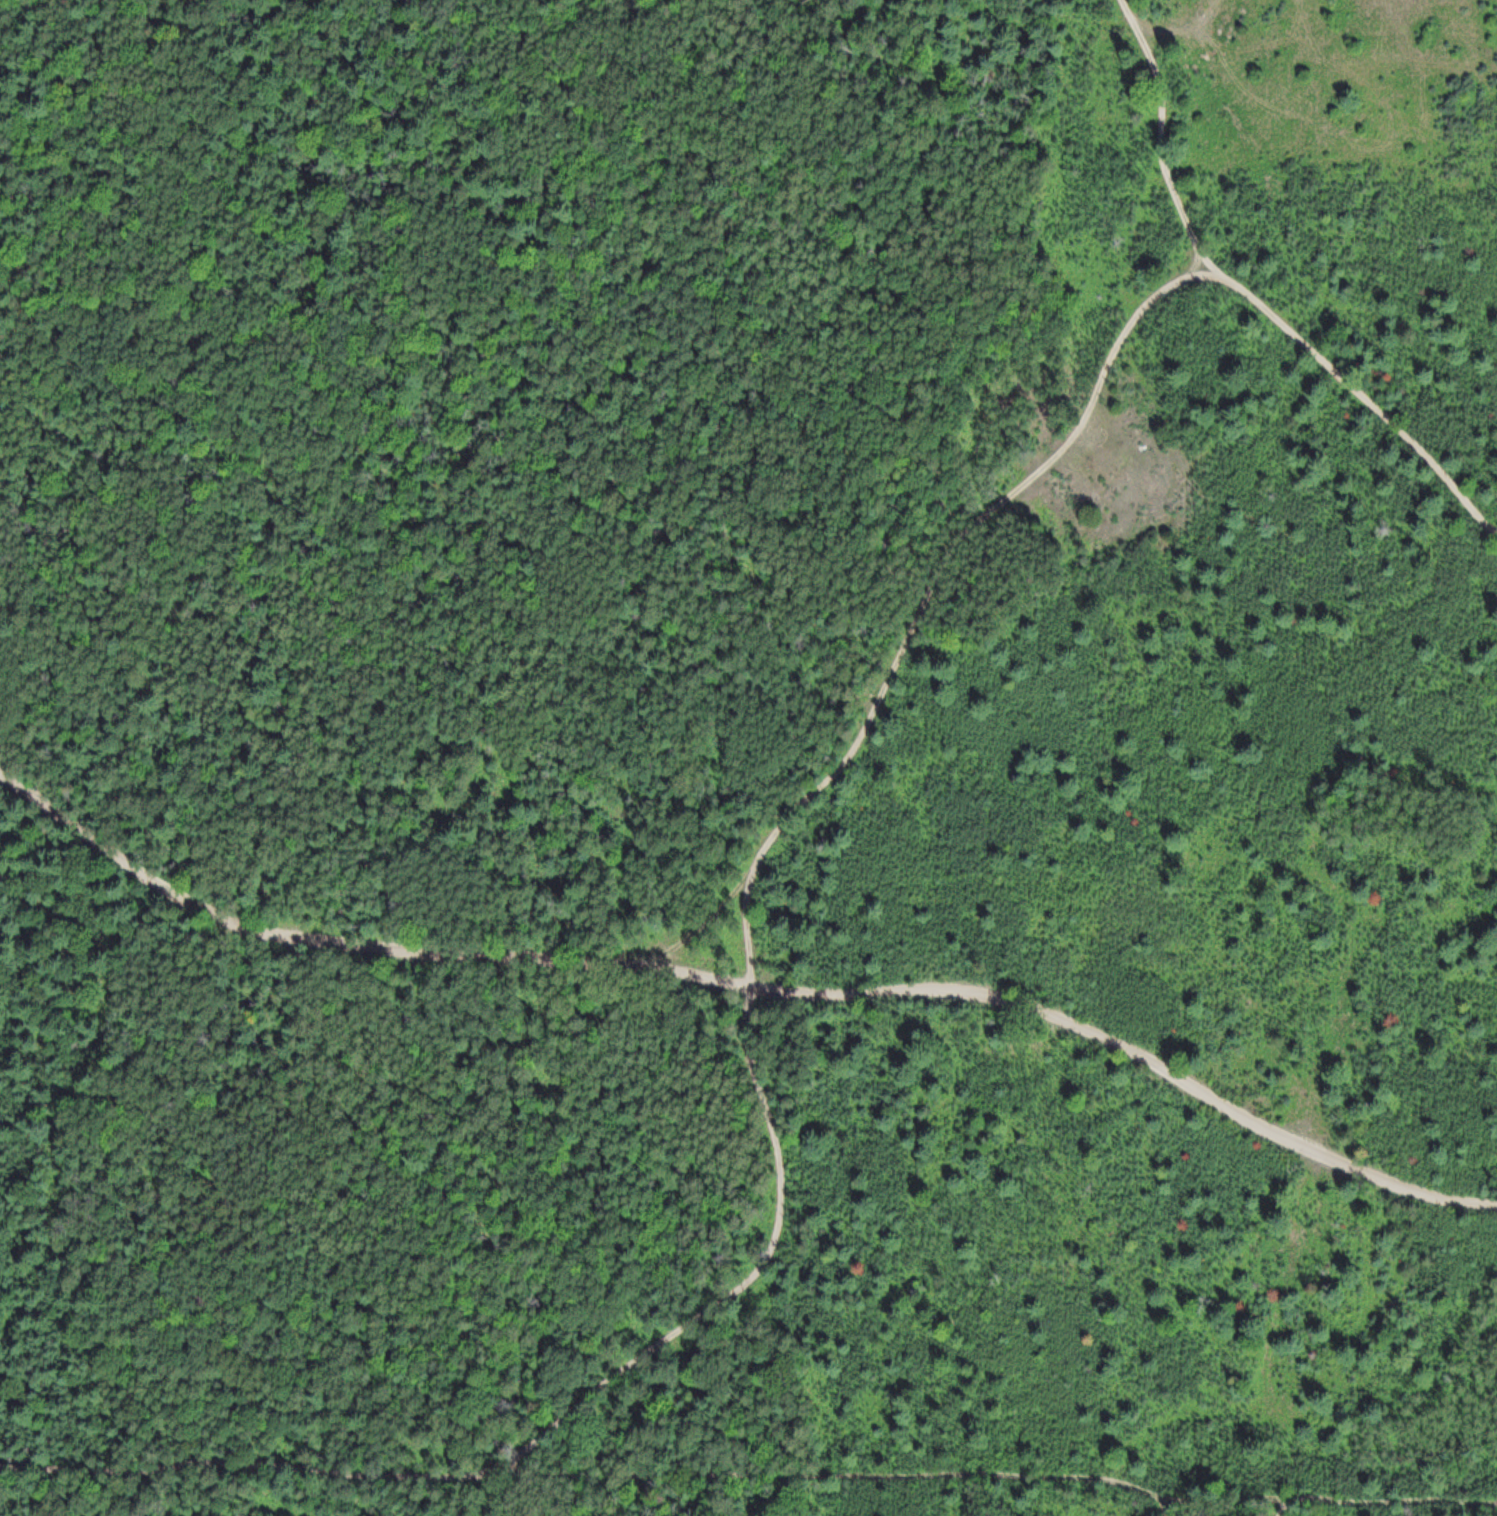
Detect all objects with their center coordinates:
road: (1252, 299)
road: (932, 591)
road: (708, 925)
road: (751, 984)
road: (749, 1476)

